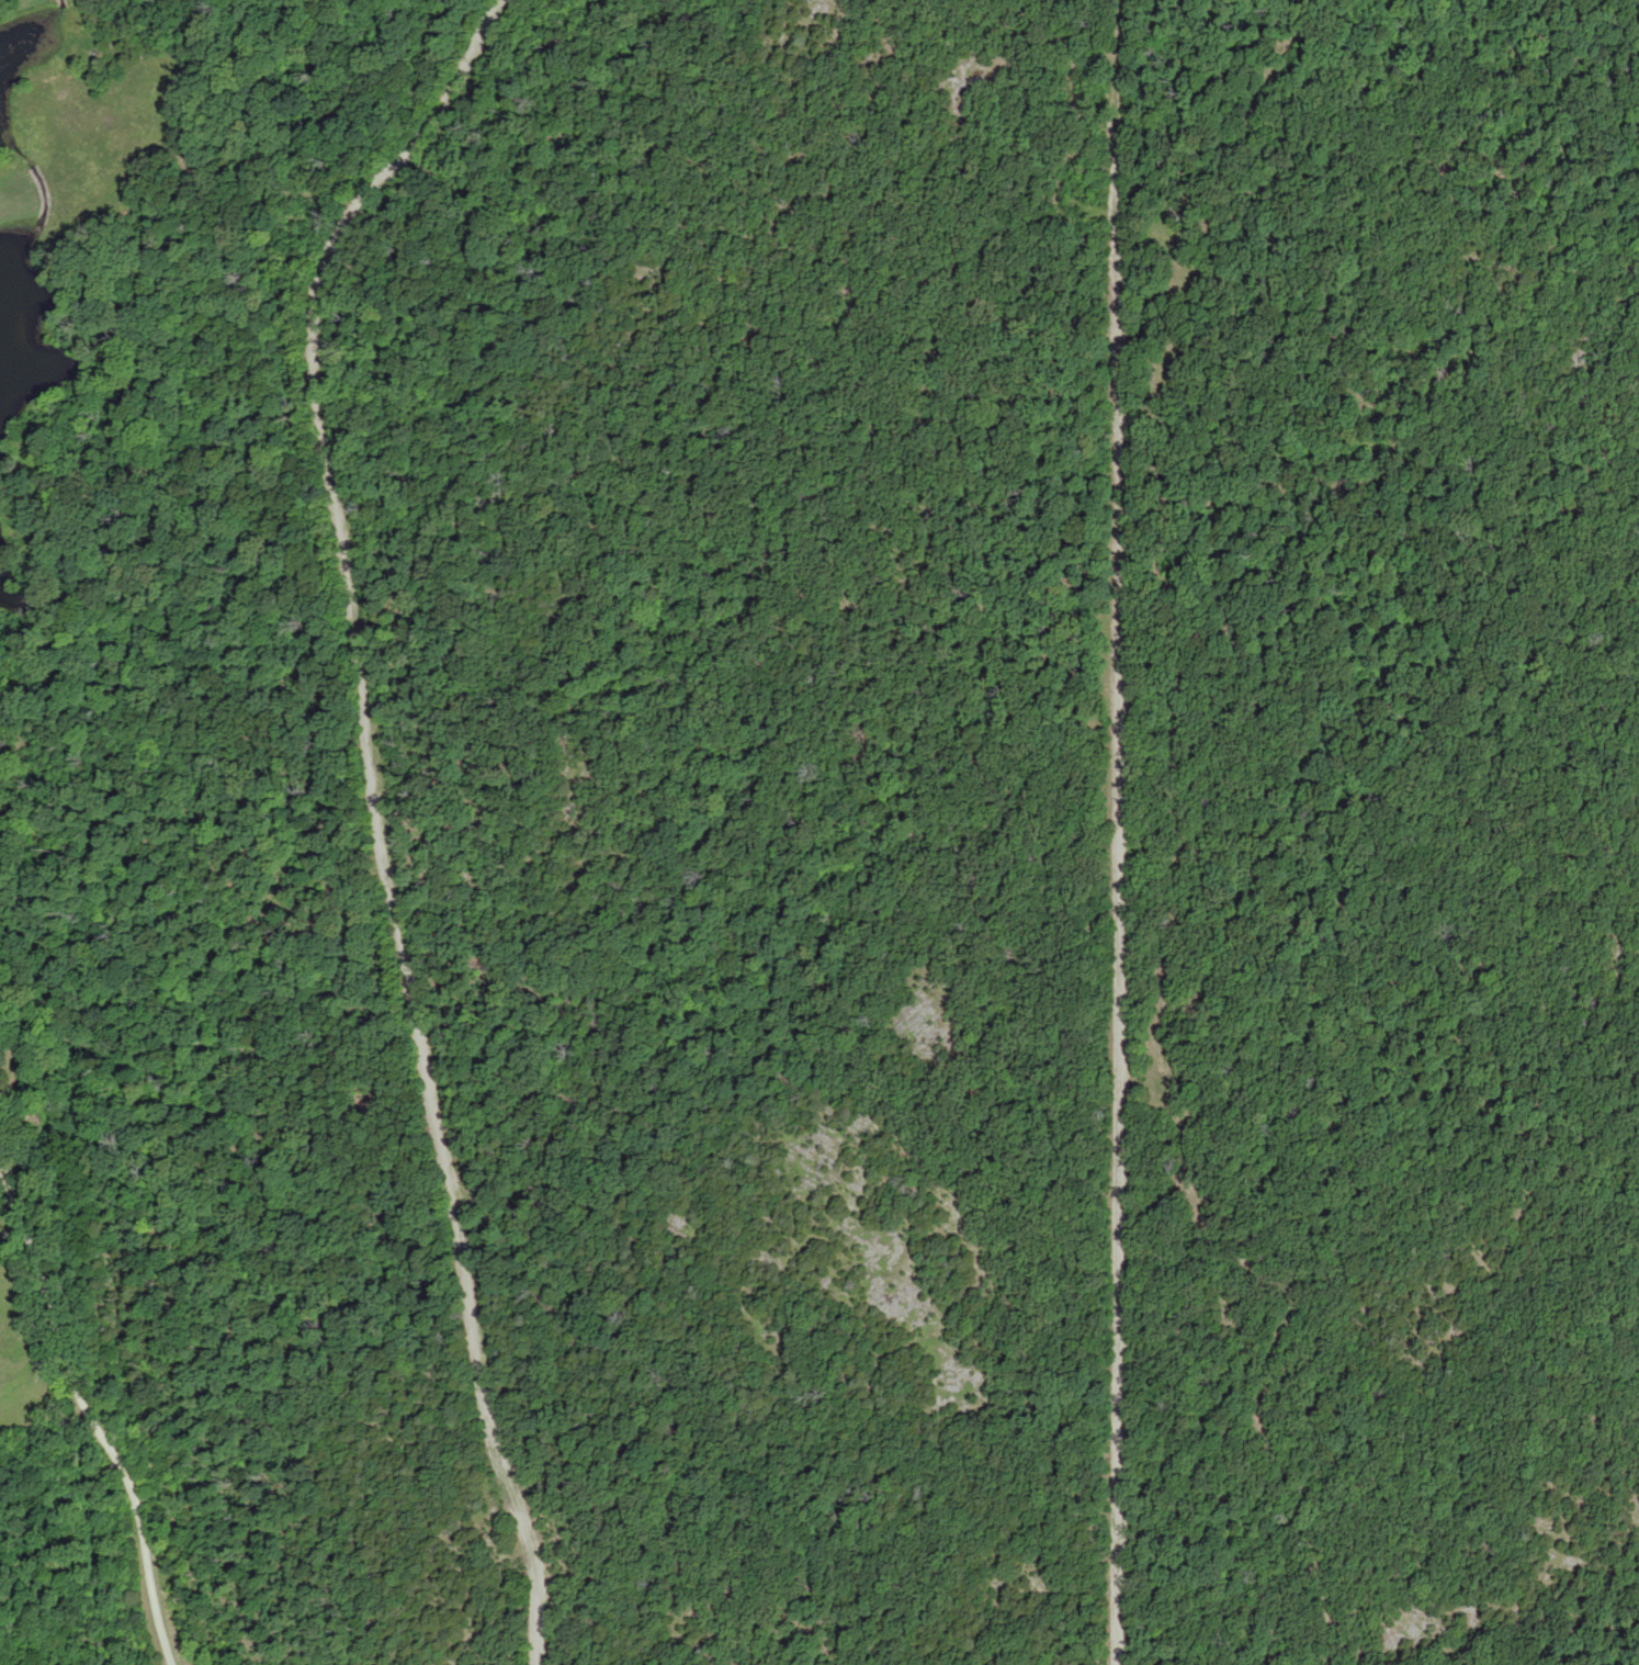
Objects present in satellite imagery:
road: (397, 924)
road: (90, 1413)

